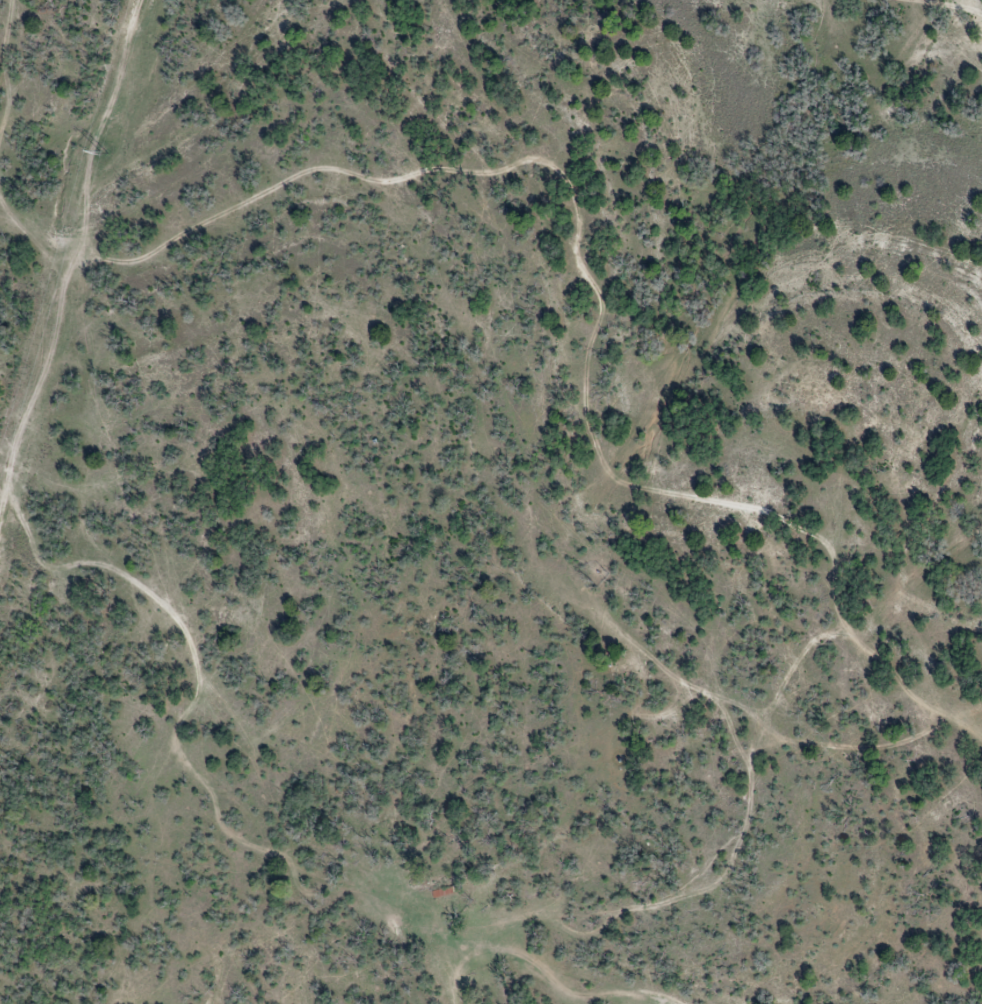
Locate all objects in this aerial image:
power tower: (104, 151)

